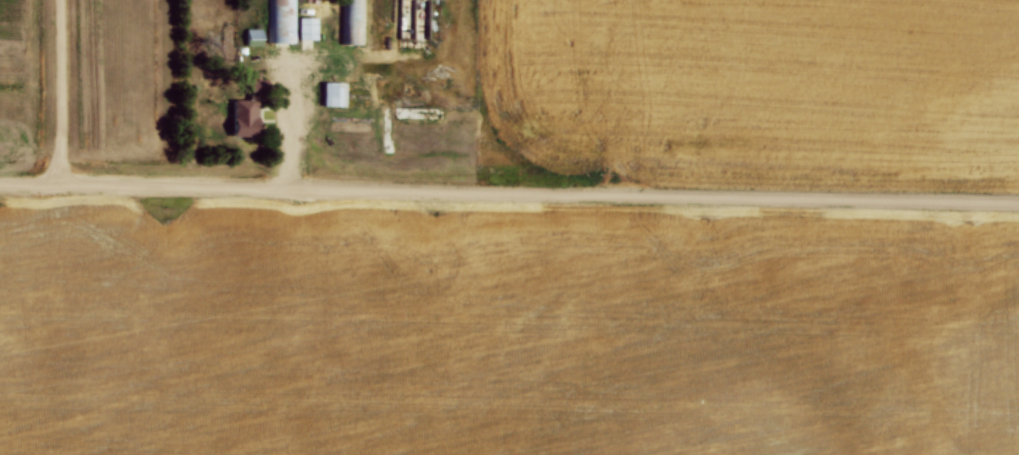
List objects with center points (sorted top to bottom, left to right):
building: (282, 20)
building: (353, 21)
building: (307, 28)
building: (253, 35)
crop: (80, 77)
crop: (772, 86)
building: (333, 92)
road: (62, 93)
building: (245, 116)
road: (291, 122)
road: (509, 190)
crop: (503, 331)

